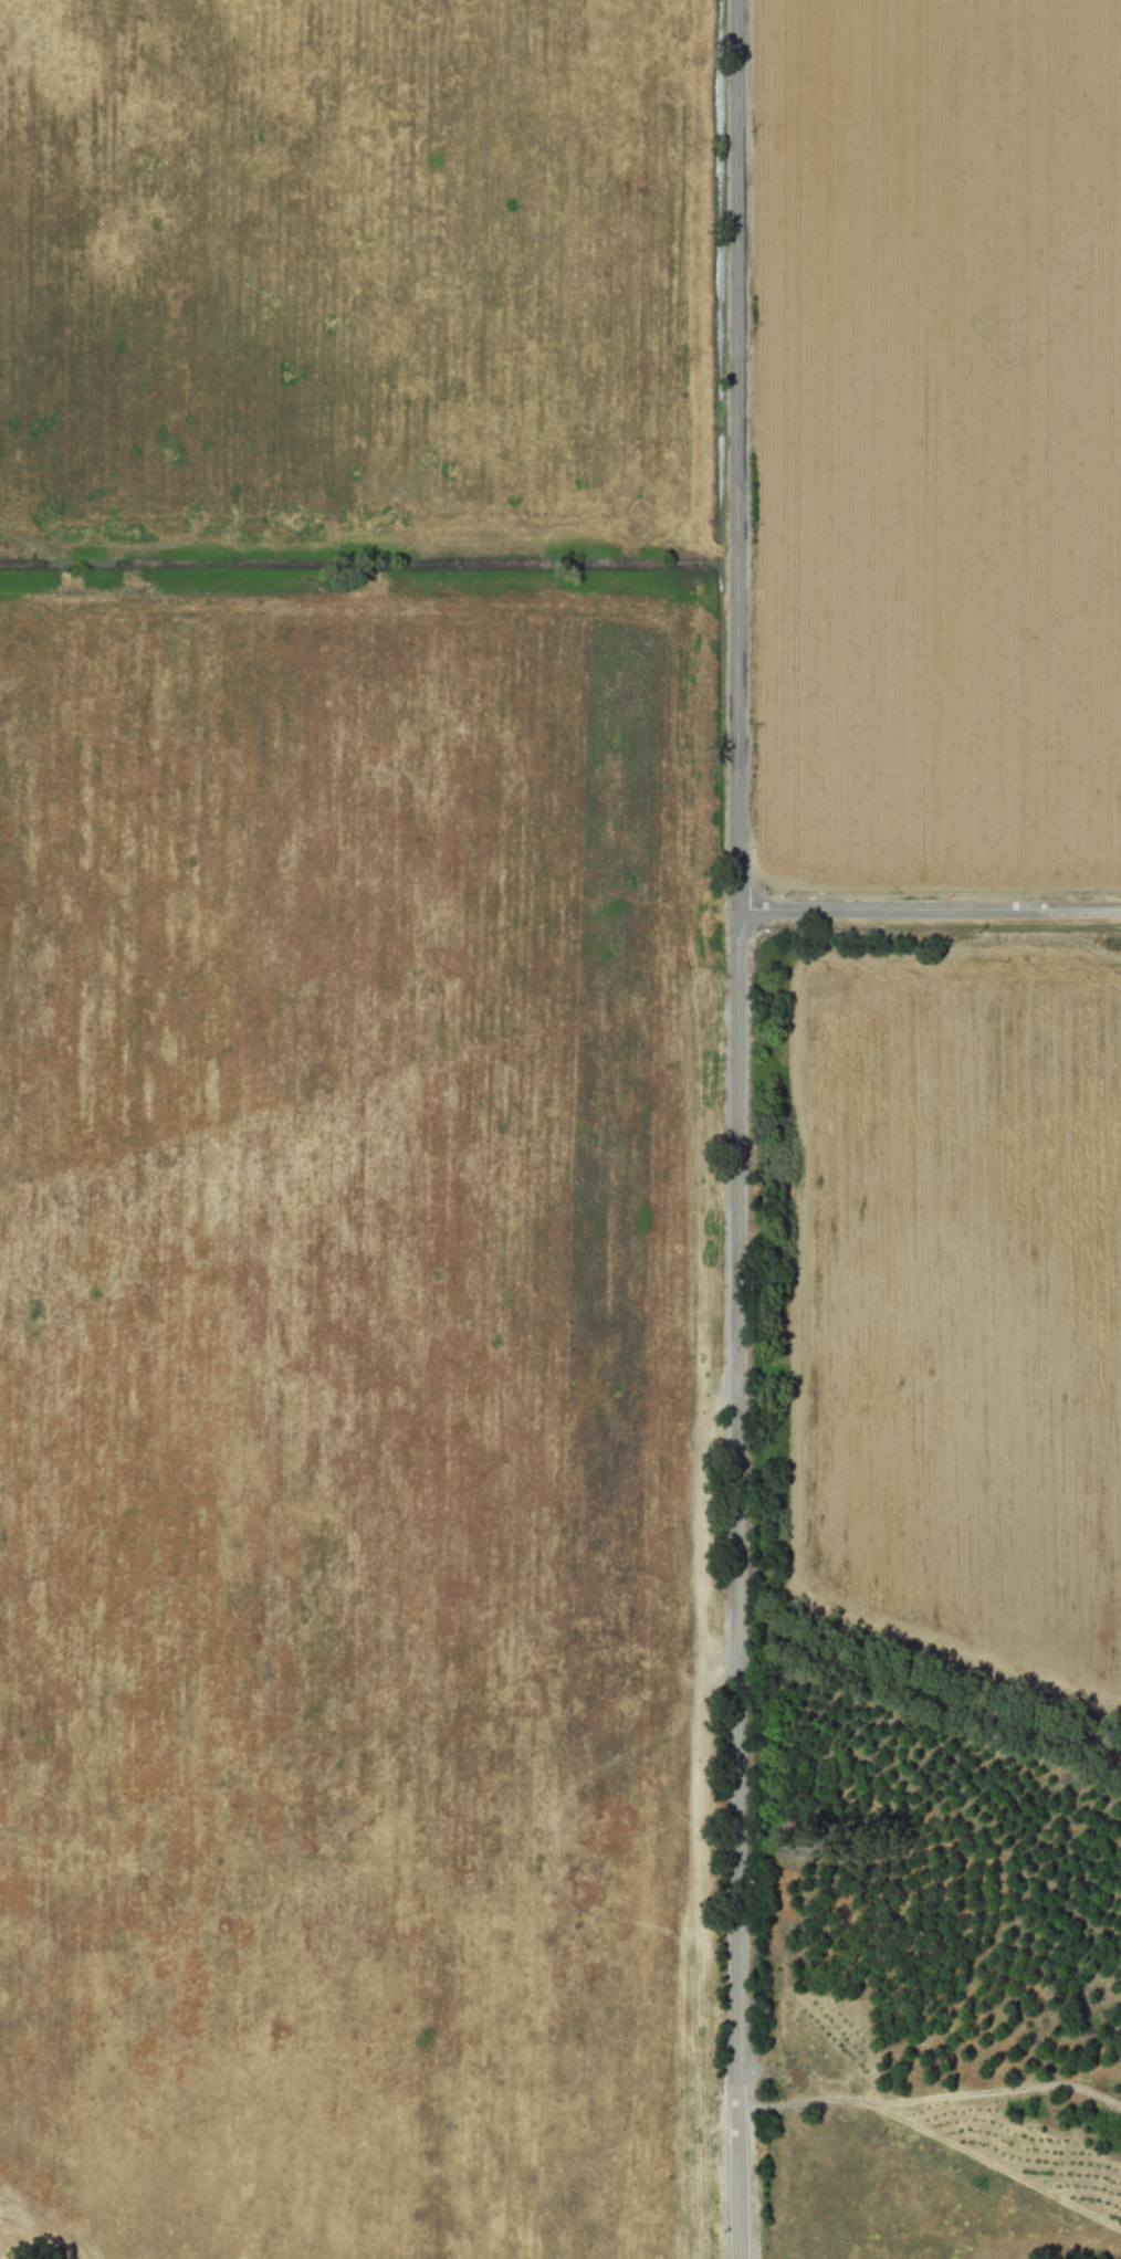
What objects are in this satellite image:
crop: (940, 449)
road: (930, 910)
road: (738, 1129)

